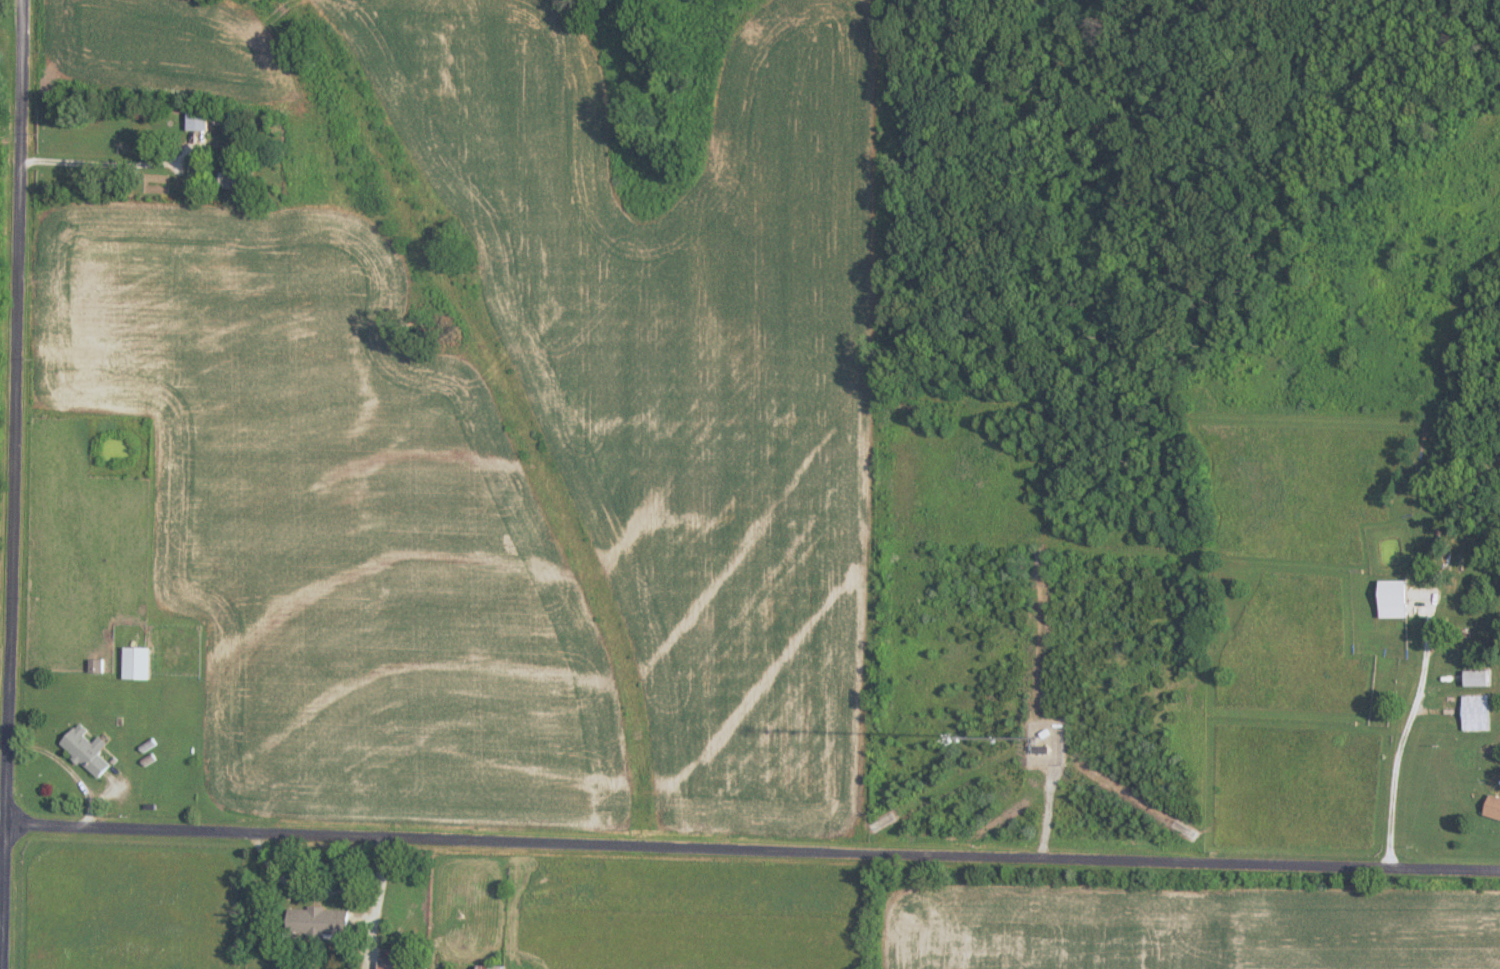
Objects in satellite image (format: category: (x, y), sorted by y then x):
building: (202, 121)
building: (238, 168)
road: (13, 484)
building: (140, 663)
building: (1477, 713)
road: (1391, 742)
building: (1041, 750)
building: (90, 751)
building: (1494, 807)
road: (753, 827)
building: (325, 921)
building: (406, 966)
building: (495, 967)

